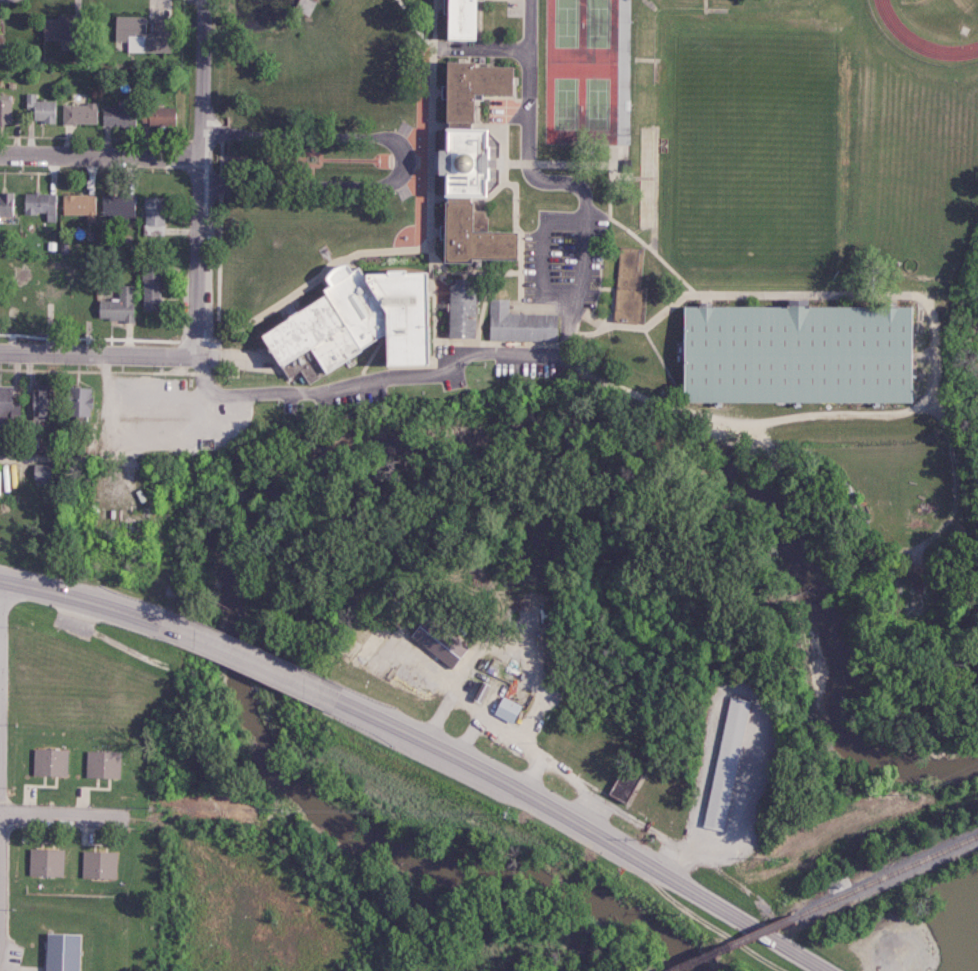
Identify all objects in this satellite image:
park: (970, 7)
road: (422, 20)
building: (459, 22)
building: (52, 28)
track: (889, 32)
building: (138, 35)
road: (474, 58)
park: (577, 70)
road: (202, 76)
road: (529, 88)
building: (469, 94)
building: (41, 108)
building: (5, 109)
building: (79, 113)
building: (117, 116)
building: (157, 116)
park: (742, 130)
road: (100, 151)
road: (293, 154)
road: (409, 158)
building: (463, 173)
building: (7, 204)
building: (39, 204)
building: (77, 204)
building: (116, 208)
building: (153, 215)
road: (520, 245)
road: (583, 246)
building: (472, 248)
road: (196, 254)
parking lot: (559, 258)
building: (628, 284)
building: (149, 288)
road: (726, 289)
road: (289, 295)
road: (433, 302)
building: (116, 305)
building: (459, 314)
building: (355, 324)
building: (517, 325)
road: (640, 327)
road: (210, 350)
building: (793, 352)
road: (97, 353)
road: (659, 358)
road: (366, 382)
parking lot: (350, 400)
building: (7, 402)
building: (76, 402)
building: (38, 403)
parking lot: (167, 415)
road: (786, 415)
road: (49, 458)
building: (41, 472)
road: (78, 597)
building: (436, 638)
road: (241, 657)
building: (506, 709)
building: (49, 761)
building: (103, 764)
building: (718, 764)
building: (621, 781)
road: (85, 814)
road: (579, 825)
building: (45, 861)
building: (99, 864)
railway: (884, 874)
parking lot: (889, 942)
railway: (728, 943)
building: (60, 952)

